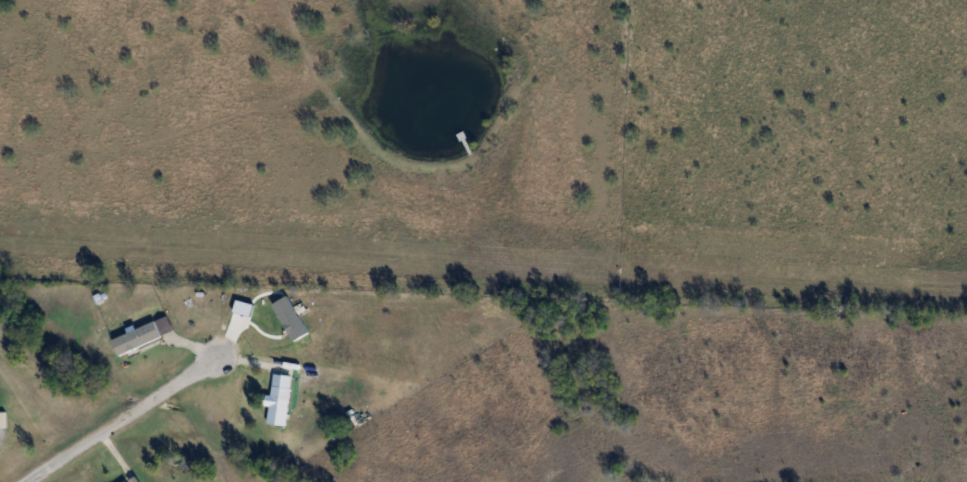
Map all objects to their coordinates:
building: (137, 338)
building: (280, 400)
road: (121, 418)
building: (3, 420)

